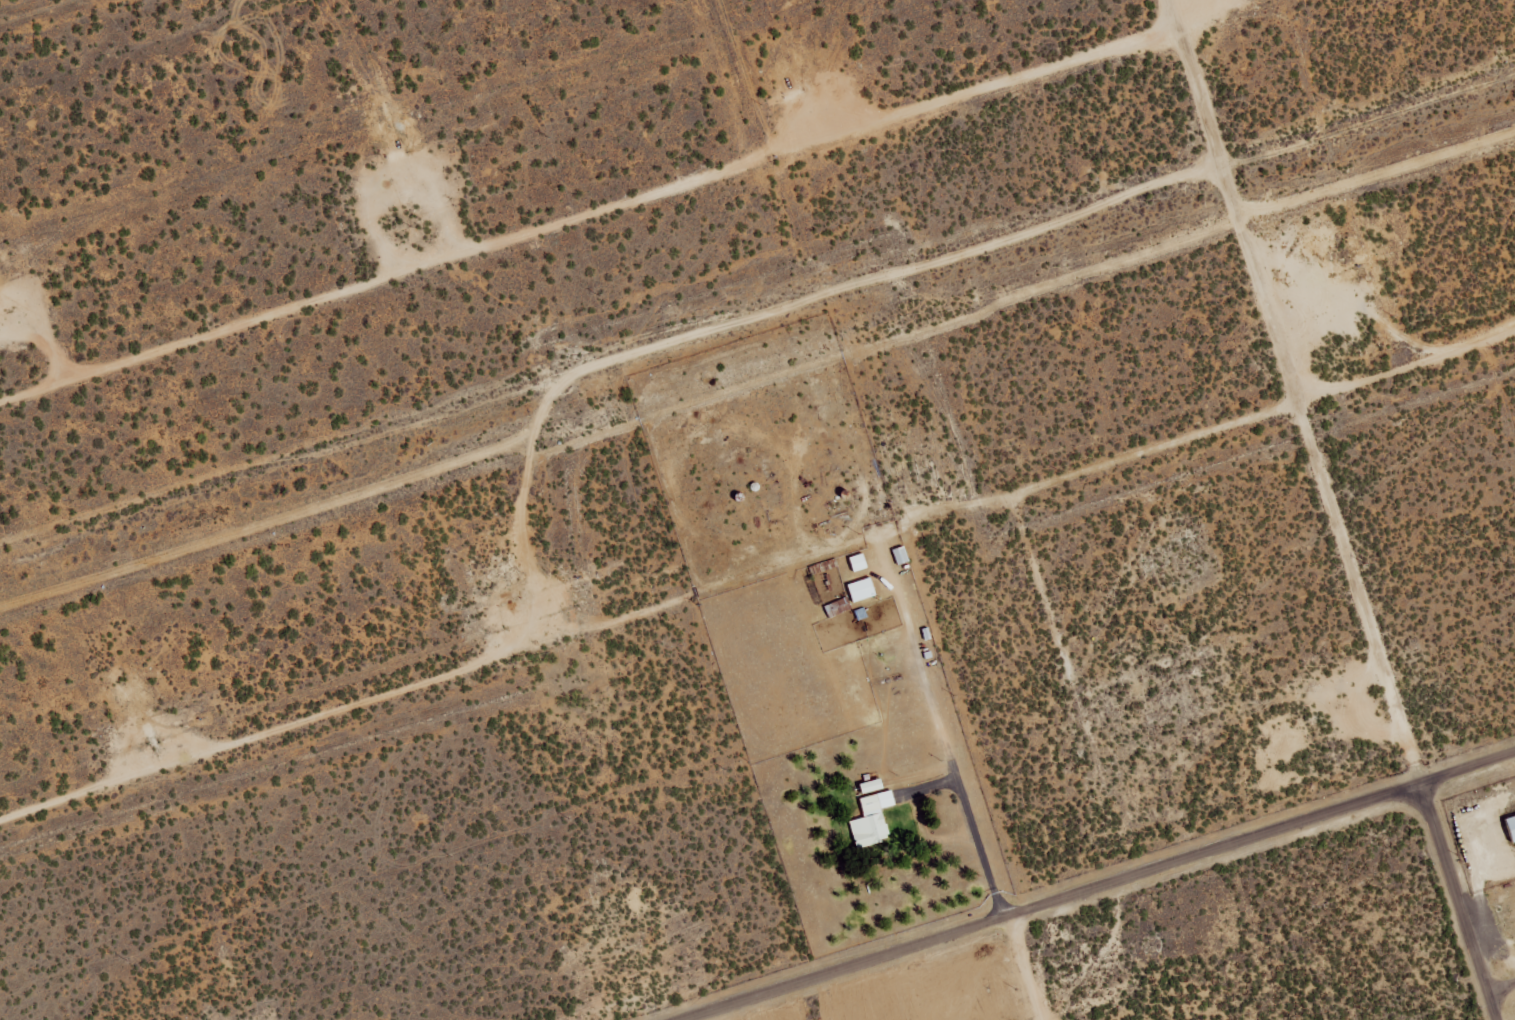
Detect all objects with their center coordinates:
road: (590, 223)
road: (1510, 345)
road: (1292, 391)
road: (753, 585)
building: (863, 589)
road: (1469, 766)
building: (874, 786)
building: (874, 819)
building: (1508, 827)
road: (1060, 898)
road: (1457, 900)
road: (1027, 967)
road: (1499, 987)

